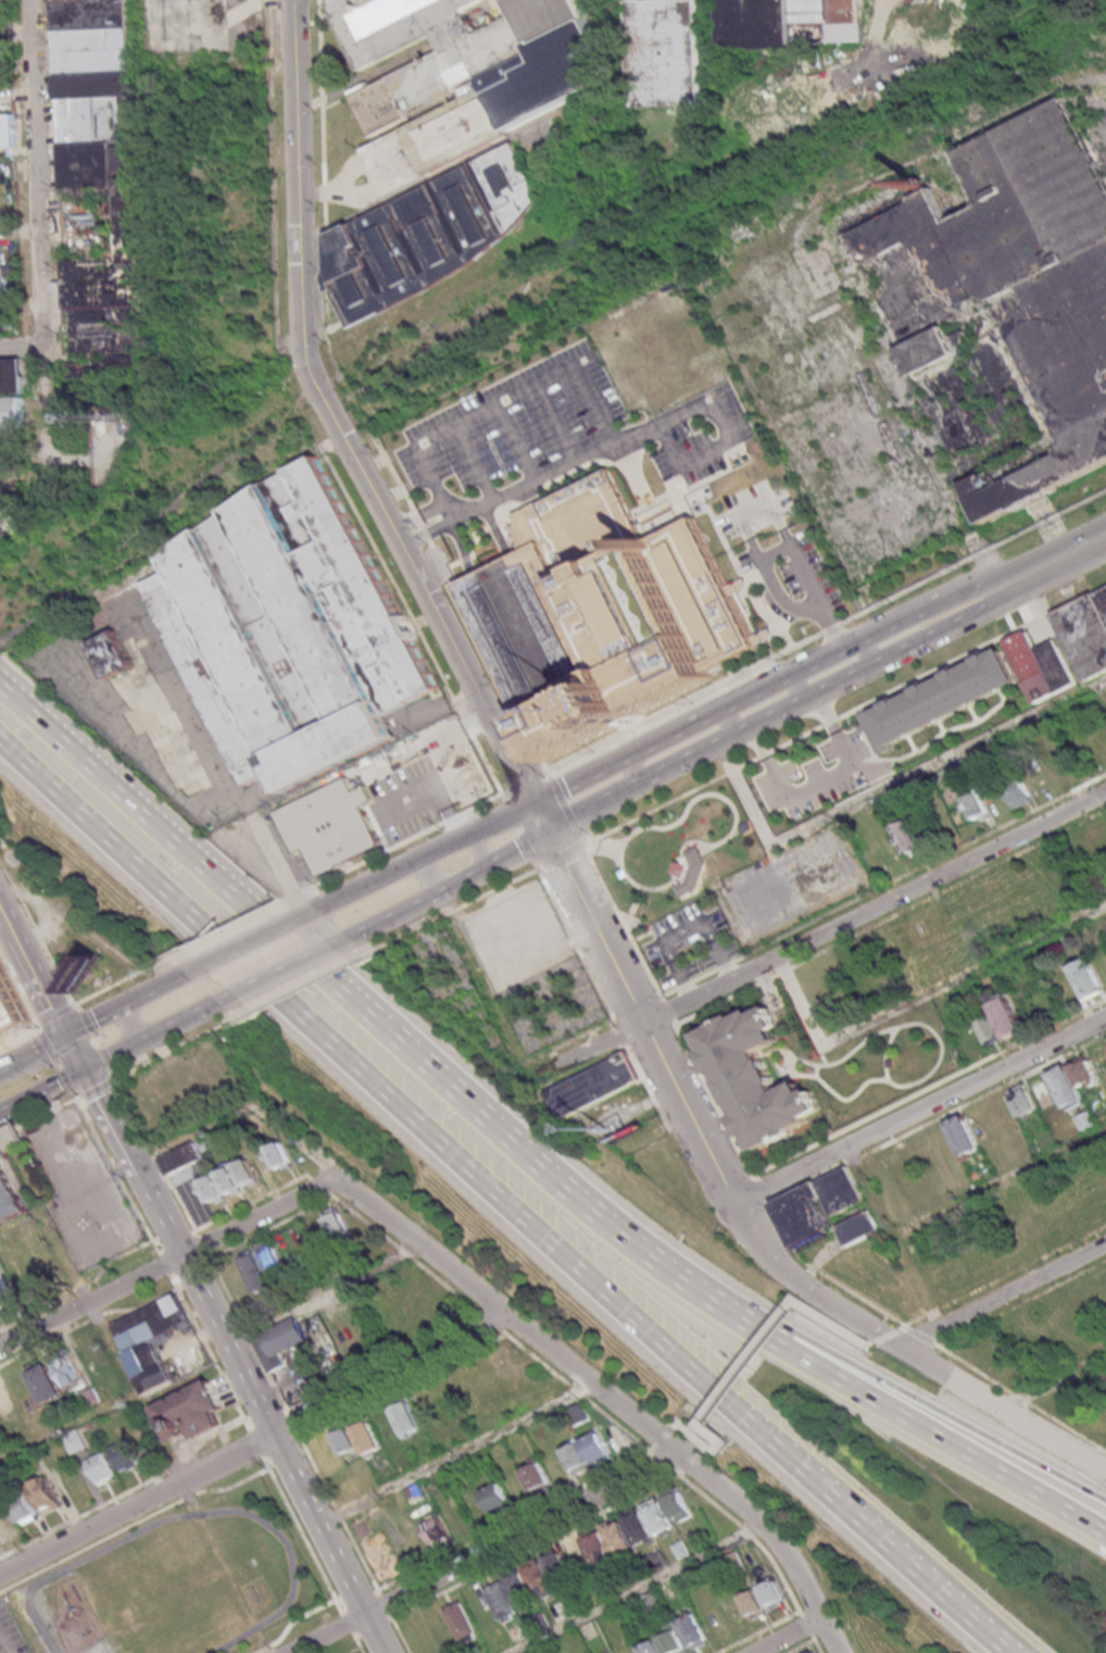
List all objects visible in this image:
building: (793, 22)
building: (667, 51)
building: (466, 73)
road: (35, 177)
building: (102, 181)
building: (432, 233)
building: (1006, 304)
road: (12, 349)
road: (585, 374)
building: (11, 376)
building: (11, 413)
road: (46, 413)
road: (722, 422)
road: (448, 512)
road: (420, 519)
road: (770, 579)
building: (601, 615)
building: (1085, 624)
building: (292, 629)
road: (821, 635)
building: (117, 654)
building: (1031, 665)
building: (1056, 665)
road: (466, 669)
road: (822, 674)
building: (938, 698)
road: (225, 768)
building: (1059, 771)
parking lot: (813, 774)
road: (525, 784)
road: (881, 792)
building: (1018, 797)
building: (976, 807)
building: (334, 824)
building: (907, 840)
road: (400, 847)
road: (479, 851)
park: (679, 852)
road: (418, 861)
building: (694, 872)
road: (427, 876)
road: (442, 887)
building: (527, 914)
road: (891, 915)
road: (319, 929)
road: (223, 936)
road: (820, 938)
road: (242, 950)
road: (52, 953)
road: (34, 969)
road: (269, 975)
building: (1085, 979)
road: (20, 982)
road: (488, 985)
road: (117, 986)
road: (920, 998)
building: (11, 1001)
road: (126, 1007)
road: (669, 1009)
road: (59, 1013)
building: (1006, 1018)
road: (139, 1023)
road: (379, 1025)
building: (986, 1030)
road: (20, 1034)
traffic signals: (70, 1038)
road: (100, 1039)
road: (148, 1039)
building: (967, 1041)
road: (77, 1054)
road: (35, 1055)
road: (60, 1060)
traffic signals: (86, 1072)
building: (1084, 1073)
building: (759, 1078)
building: (595, 1086)
road: (931, 1086)
road: (100, 1088)
road: (373, 1088)
building: (1067, 1088)
road: (42, 1094)
road: (715, 1098)
building: (1023, 1102)
road: (920, 1109)
road: (939, 1117)
road: (110, 1118)
building: (1085, 1122)
road: (198, 1135)
building: (965, 1138)
road: (300, 1139)
building: (208, 1142)
building: (284, 1156)
building: (184, 1157)
building: (902, 1161)
building: (250, 1172)
road: (121, 1175)
building: (11, 1176)
road: (311, 1178)
building: (234, 1180)
road: (1008, 1180)
road: (323, 1187)
road: (762, 1187)
building: (217, 1189)
parking lot: (85, 1194)
road: (251, 1204)
building: (818, 1205)
building: (336, 1223)
road: (21, 1224)
building: (859, 1227)
building: (271, 1260)
road: (168, 1261)
road: (166, 1263)
road: (1027, 1265)
building: (255, 1275)
road: (826, 1275)
road: (442, 1280)
building: (4, 1292)
road: (1003, 1293)
road: (327, 1294)
road: (1021, 1302)
road: (506, 1305)
road: (847, 1312)
road: (923, 1316)
building: (149, 1323)
road: (837, 1324)
road: (923, 1335)
road: (888, 1337)
building: (278, 1343)
road: (874, 1345)
road: (112, 1348)
road: (212, 1352)
building: (93, 1354)
road: (753, 1364)
building: (147, 1368)
road: (977, 1369)
building: (70, 1370)
building: (45, 1385)
road: (573, 1385)
road: (1054, 1385)
building: (103, 1390)
building: (91, 1398)
road: (1025, 1401)
building: (5, 1405)
road: (994, 1405)
building: (66, 1408)
road: (259, 1410)
building: (188, 1412)
road: (945, 1413)
building: (409, 1419)
road: (238, 1427)
road: (68, 1429)
road: (681, 1429)
road: (1069, 1429)
road: (675, 1437)
road: (717, 1437)
road: (941, 1437)
building: (368, 1439)
road: (703, 1440)
building: (73, 1441)
road: (257, 1442)
building: (347, 1442)
road: (259, 1444)
road: (667, 1445)
building: (600, 1449)
road: (726, 1451)
road: (462, 1454)
building: (123, 1455)
building: (580, 1458)
road: (668, 1463)
building: (98, 1468)
building: (540, 1478)
building: (43, 1493)
building: (417, 1494)
building: (500, 1500)
building: (681, 1505)
building: (22, 1510)
building: (659, 1517)
road: (134, 1523)
road: (520, 1523)
building: (4, 1524)
building: (640, 1527)
road: (779, 1530)
building: (439, 1533)
road: (306, 1536)
building: (619, 1538)
road: (878, 1539)
road: (538, 1548)
building: (600, 1548)
building: (682, 1551)
road: (492, 1554)
building: (556, 1564)
road: (778, 1564)
building: (540, 1580)
road: (643, 1588)
building: (519, 1590)
building: (776, 1595)
road: (362, 1598)
building: (502, 1602)
building: (755, 1606)
building: (733, 1608)
building: (542, 1620)
road: (300, 1621)
building: (462, 1623)
road: (809, 1625)
road: (350, 1626)
road: (377, 1630)
building: (693, 1631)
road: (793, 1633)
building: (674, 1639)
road: (361, 1641)
road: (360, 1644)
road: (820, 1645)
building: (653, 1649)
road: (356, 1651)
building: (817, 1652)

